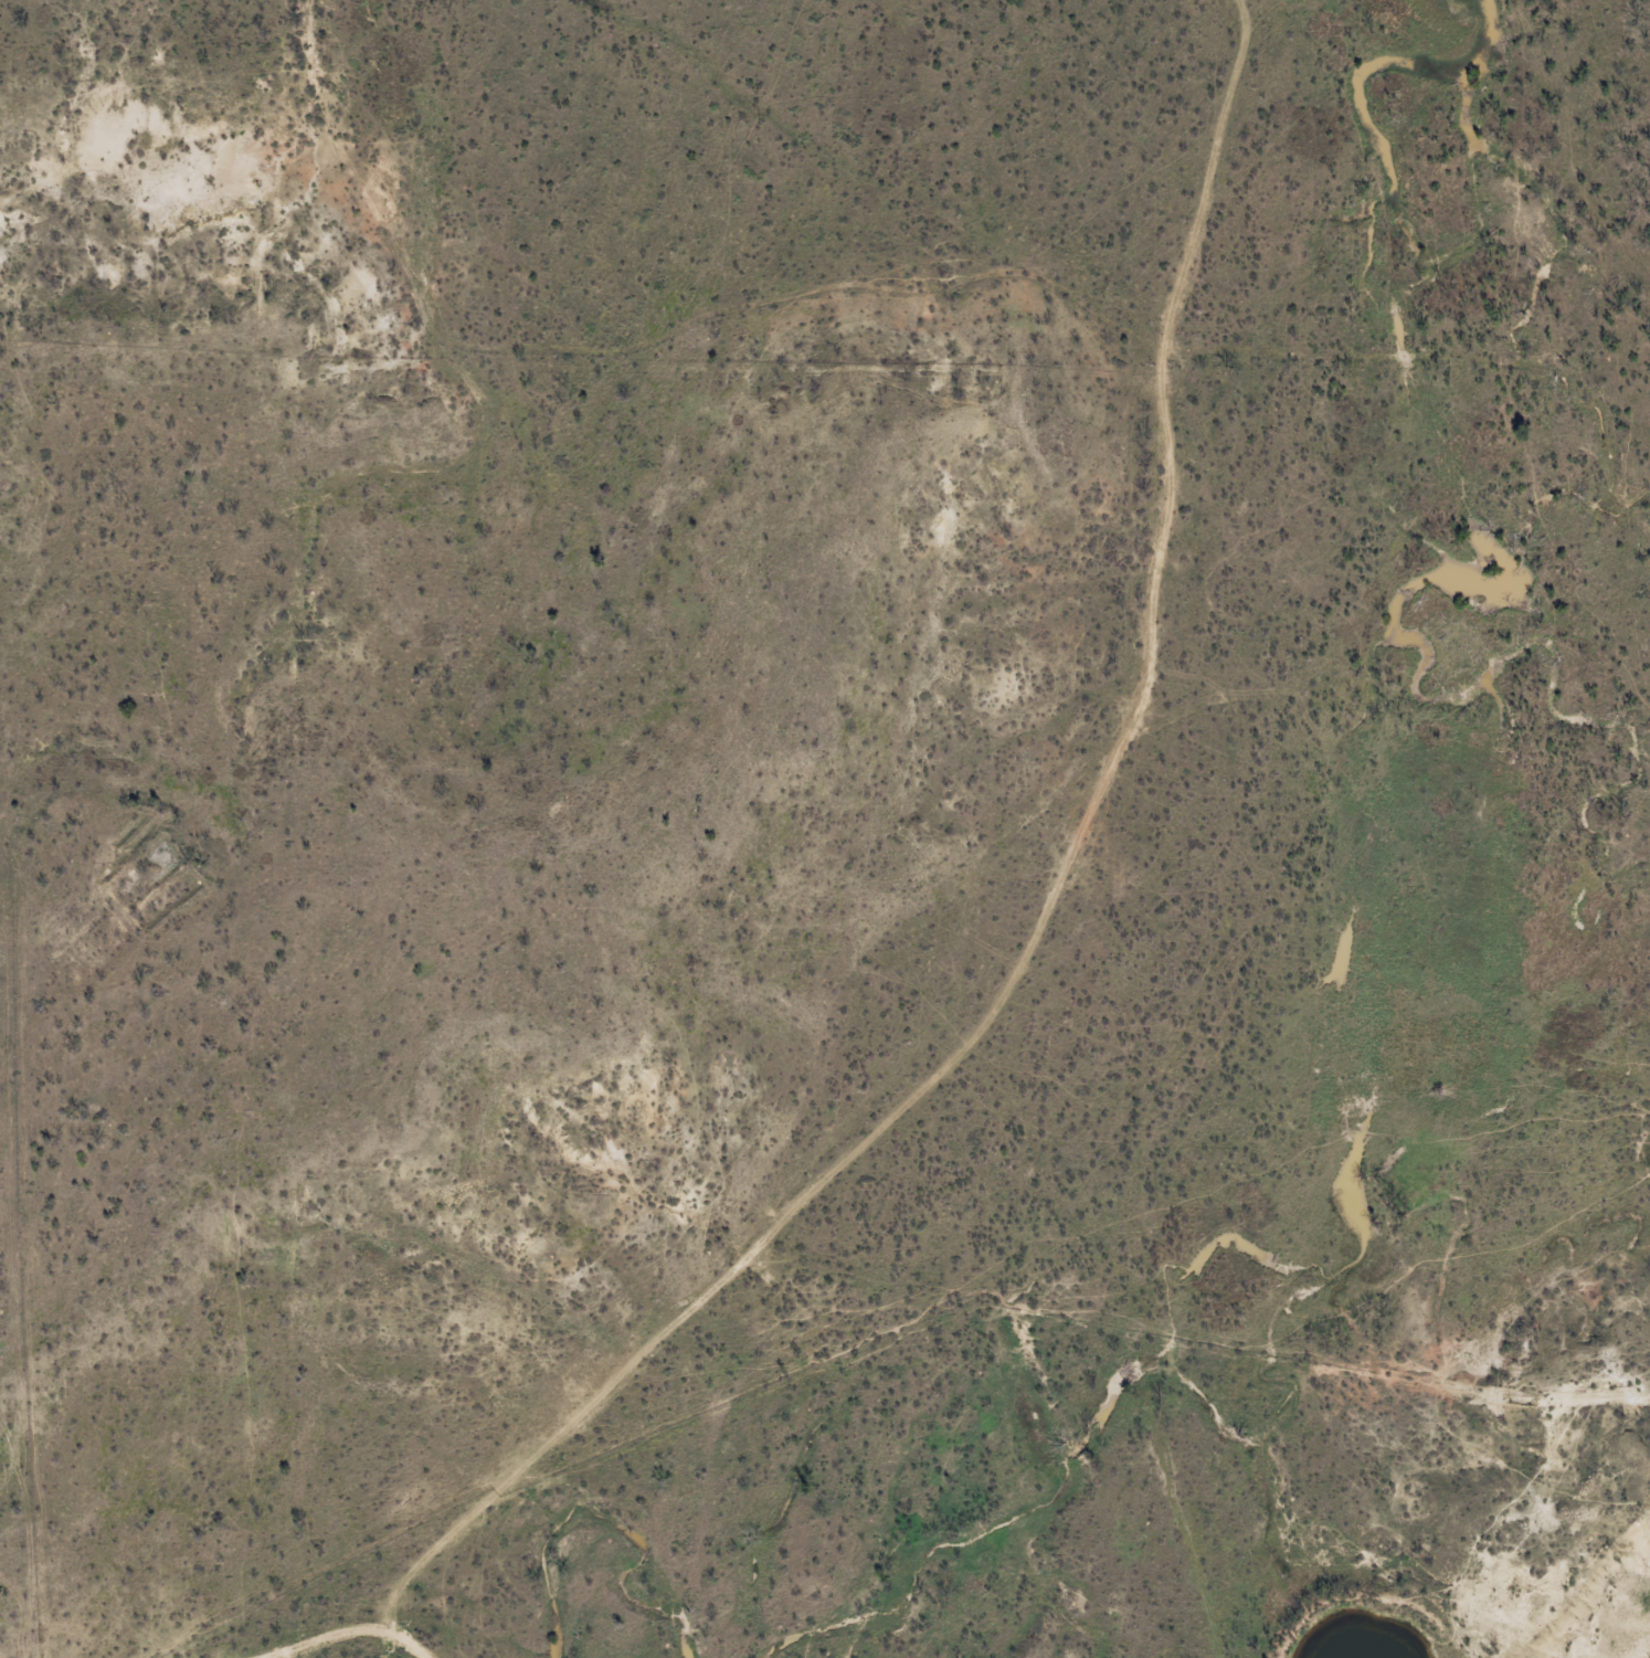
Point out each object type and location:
road: (1055, 950)
road: (369, 1657)

